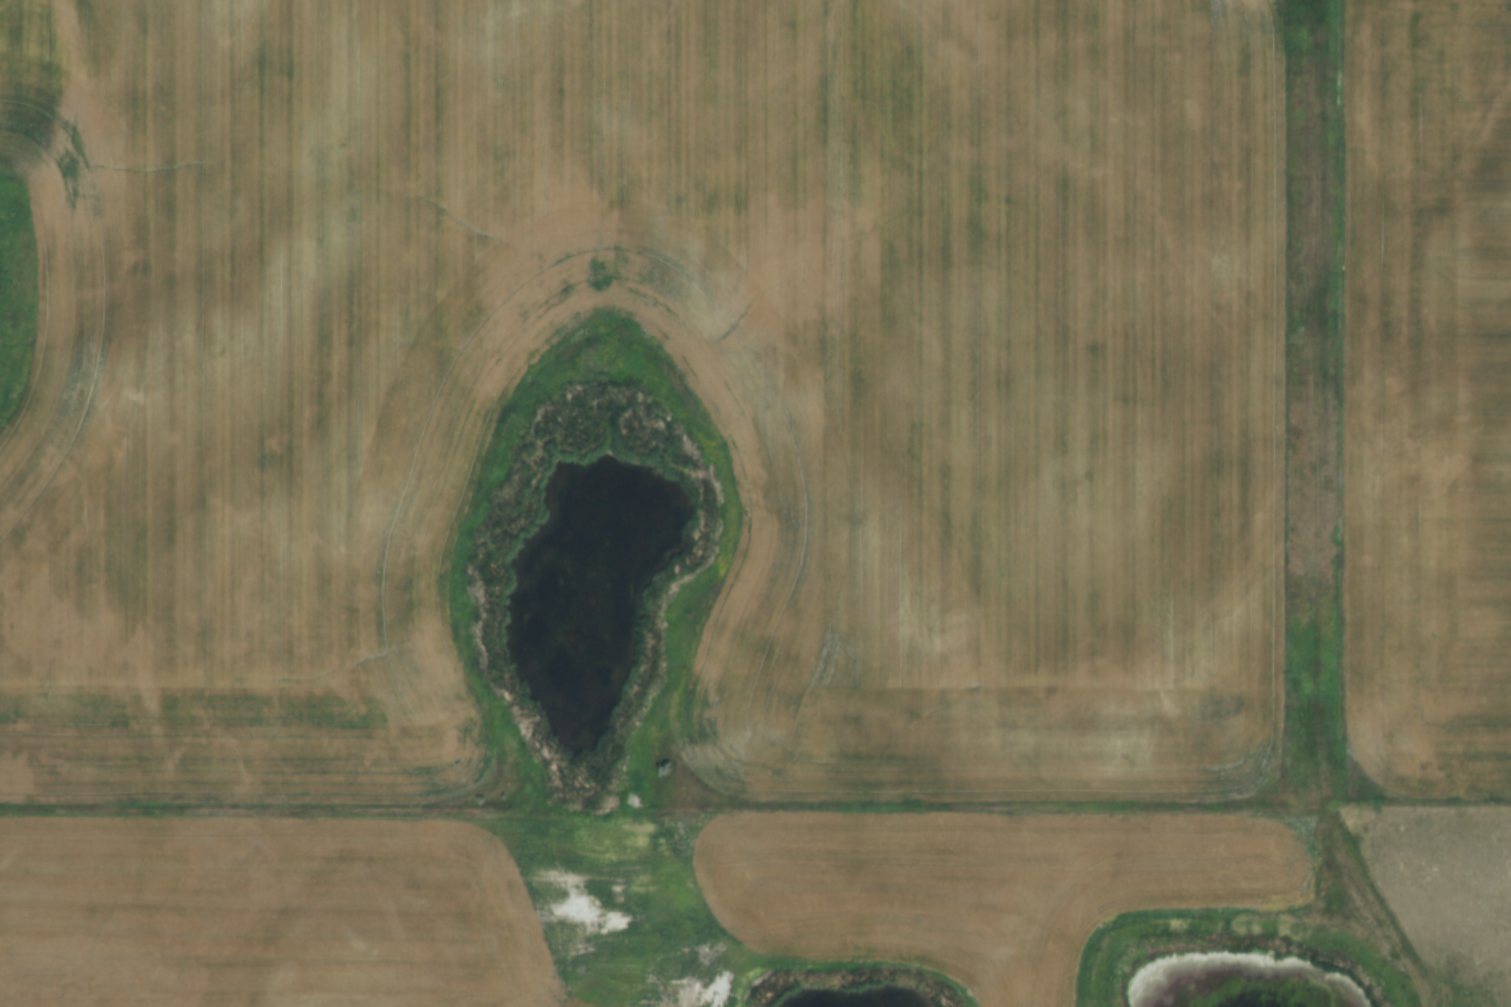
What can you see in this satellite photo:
road: (1309, 410)
road: (653, 813)
road: (1372, 908)

